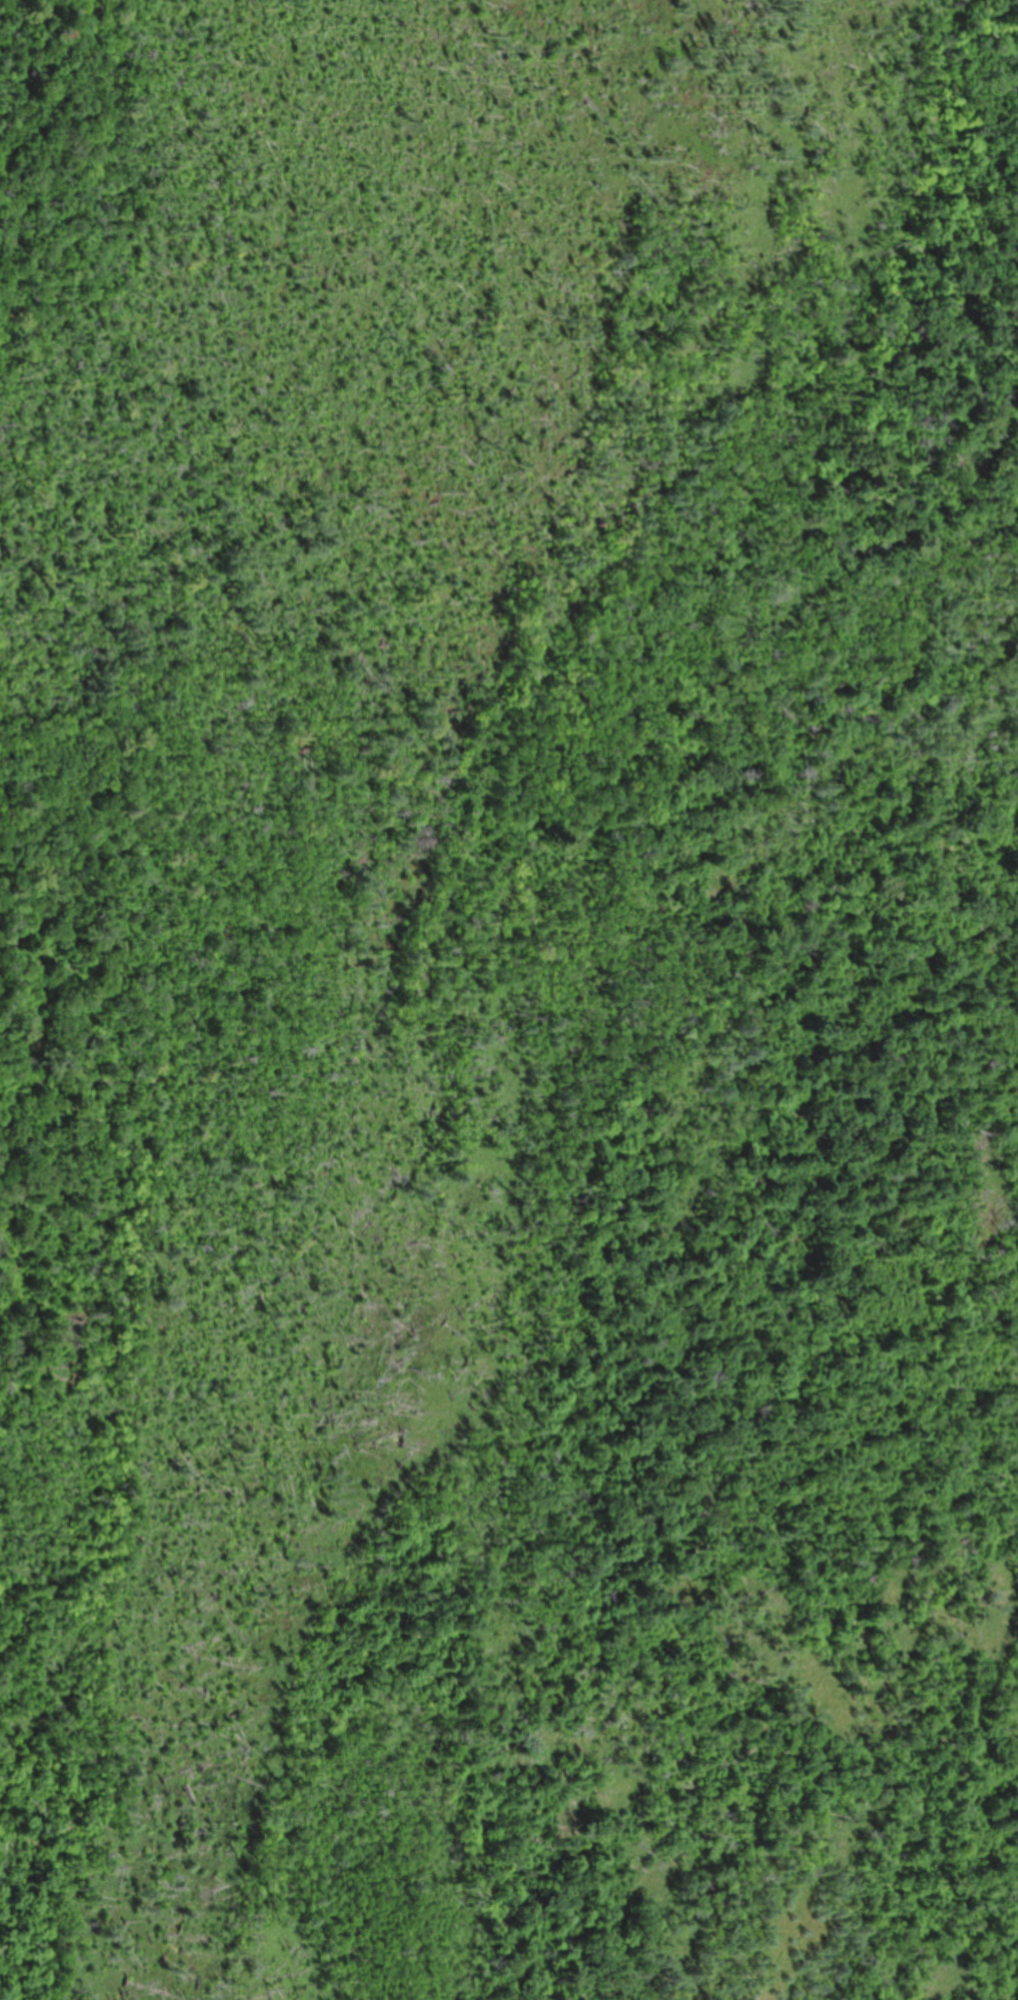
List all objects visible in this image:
park: (509, 1000)

